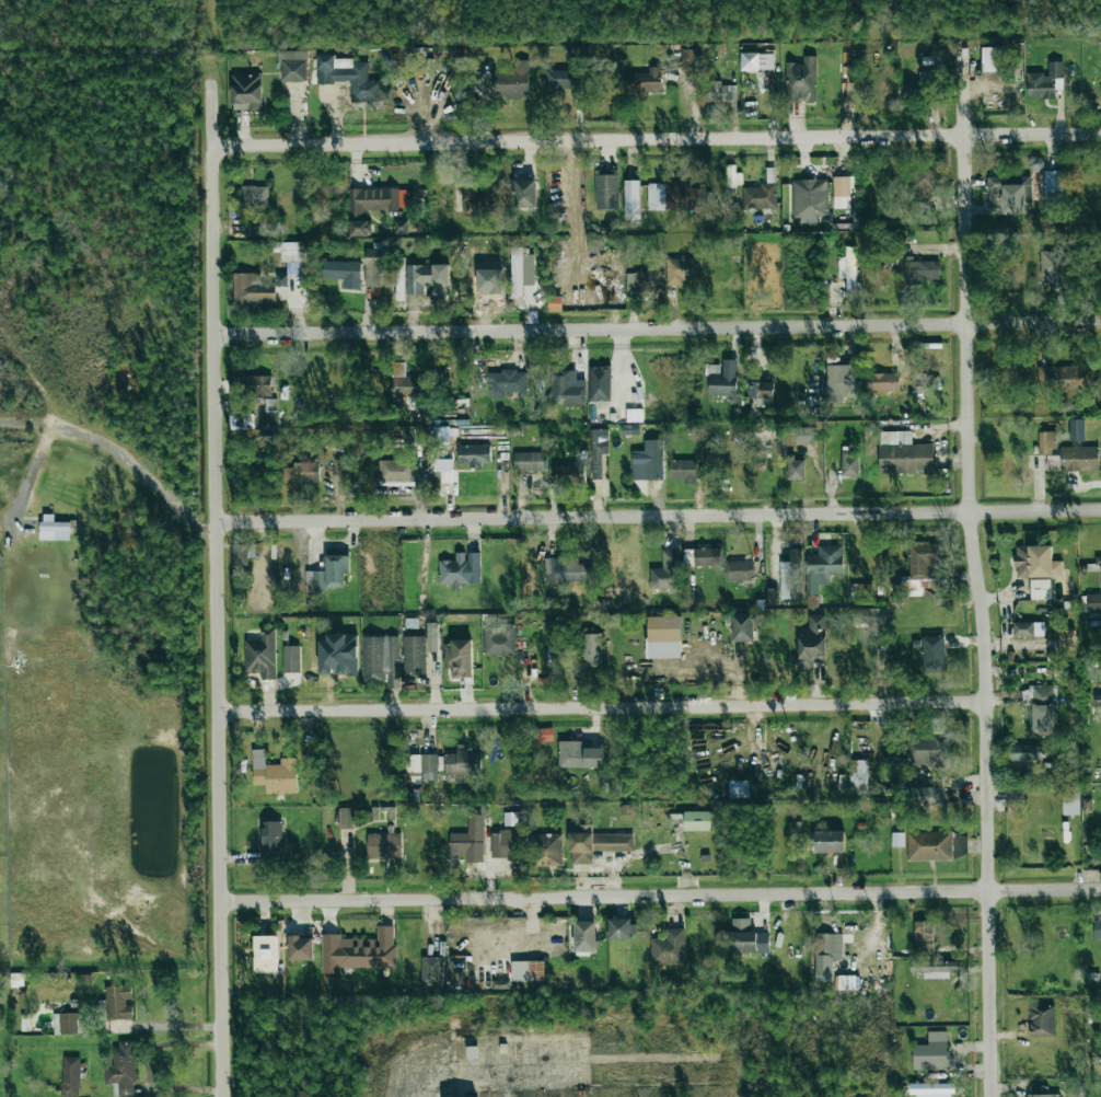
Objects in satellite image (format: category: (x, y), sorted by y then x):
building: (688, 59)
building: (992, 59)
building: (756, 61)
building: (291, 66)
building: (347, 77)
building: (560, 80)
building: (801, 80)
building: (510, 81)
building: (646, 81)
building: (1043, 81)
building: (245, 92)
building: (719, 92)
road: (654, 139)
building: (920, 185)
building: (606, 188)
building: (1053, 188)
building: (841, 192)
building: (524, 195)
building: (1008, 195)
building: (673, 196)
building: (254, 197)
building: (758, 197)
building: (633, 198)
building: (809, 199)
building: (474, 200)
building: (369, 207)
building: (401, 227)
building: (292, 255)
building: (372, 267)
building: (1051, 268)
building: (682, 270)
building: (850, 270)
building: (919, 270)
building: (344, 272)
building: (517, 272)
building: (419, 277)
building: (401, 279)
building: (641, 281)
building: (252, 289)
building: (554, 303)
road: (656, 327)
building: (1062, 379)
building: (725, 380)
building: (404, 382)
building: (881, 382)
building: (506, 383)
building: (599, 383)
building: (835, 383)
building: (253, 384)
building: (566, 388)
building: (761, 389)
building: (1076, 430)
building: (804, 435)
building: (1045, 442)
building: (598, 451)
building: (903, 453)
road: (120, 454)
building: (474, 455)
building: (1078, 459)
building: (530, 461)
building: (648, 461)
building: (849, 464)
building: (443, 469)
building: (796, 469)
building: (682, 471)
building: (302, 472)
building: (395, 472)
building: (568, 473)
road: (26, 475)
road: (657, 515)
building: (53, 523)
building: (707, 556)
building: (1035, 562)
building: (822, 567)
building: (923, 568)
building: (460, 569)
building: (566, 570)
building: (739, 570)
building: (665, 571)
building: (1099, 573)
building: (328, 575)
building: (790, 577)
road: (216, 585)
building: (1040, 589)
building: (1093, 603)
road: (977, 615)
building: (870, 619)
building: (742, 627)
building: (1028, 628)
building: (432, 636)
building: (663, 637)
building: (499, 640)
building: (812, 642)
building: (591, 648)
building: (338, 654)
building: (414, 654)
building: (932, 654)
building: (262, 655)
building: (459, 658)
building: (291, 659)
building: (380, 660)
road: (598, 707)
building: (1043, 709)
building: (927, 749)
building: (1023, 752)
building: (579, 755)
building: (461, 763)
building: (424, 766)
building: (275, 774)
building: (858, 776)
building: (932, 796)
building: (1070, 800)
building: (346, 818)
building: (697, 821)
building: (270, 841)
building: (468, 841)
building: (828, 842)
building: (595, 843)
building: (503, 844)
building: (383, 845)
building: (928, 845)
building: (959, 845)
building: (547, 850)
road: (660, 894)
building: (1097, 928)
building: (621, 929)
building: (584, 936)
building: (924, 937)
building: (747, 938)
building: (300, 948)
building: (669, 948)
building: (359, 951)
building: (265, 954)
building: (826, 955)
building: (935, 968)
building: (431, 971)
building: (526, 971)
building: (118, 1003)
building: (1041, 1020)
building: (67, 1024)
road: (171, 1025)
building: (932, 1052)
building: (123, 1069)
road: (489, 1073)
building: (70, 1076)
building: (931, 1088)
building: (1043, 1095)

